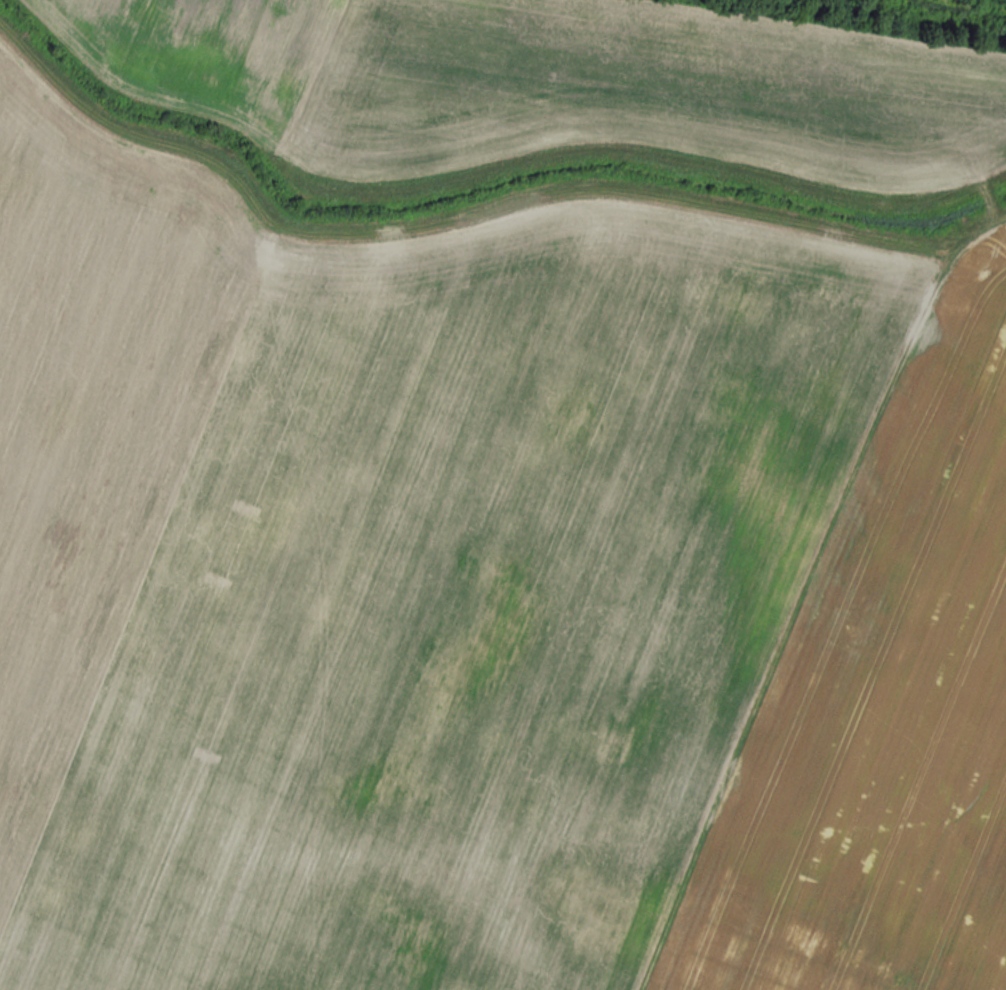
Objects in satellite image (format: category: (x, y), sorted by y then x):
crop: (379, 567)
crop: (890, 717)

